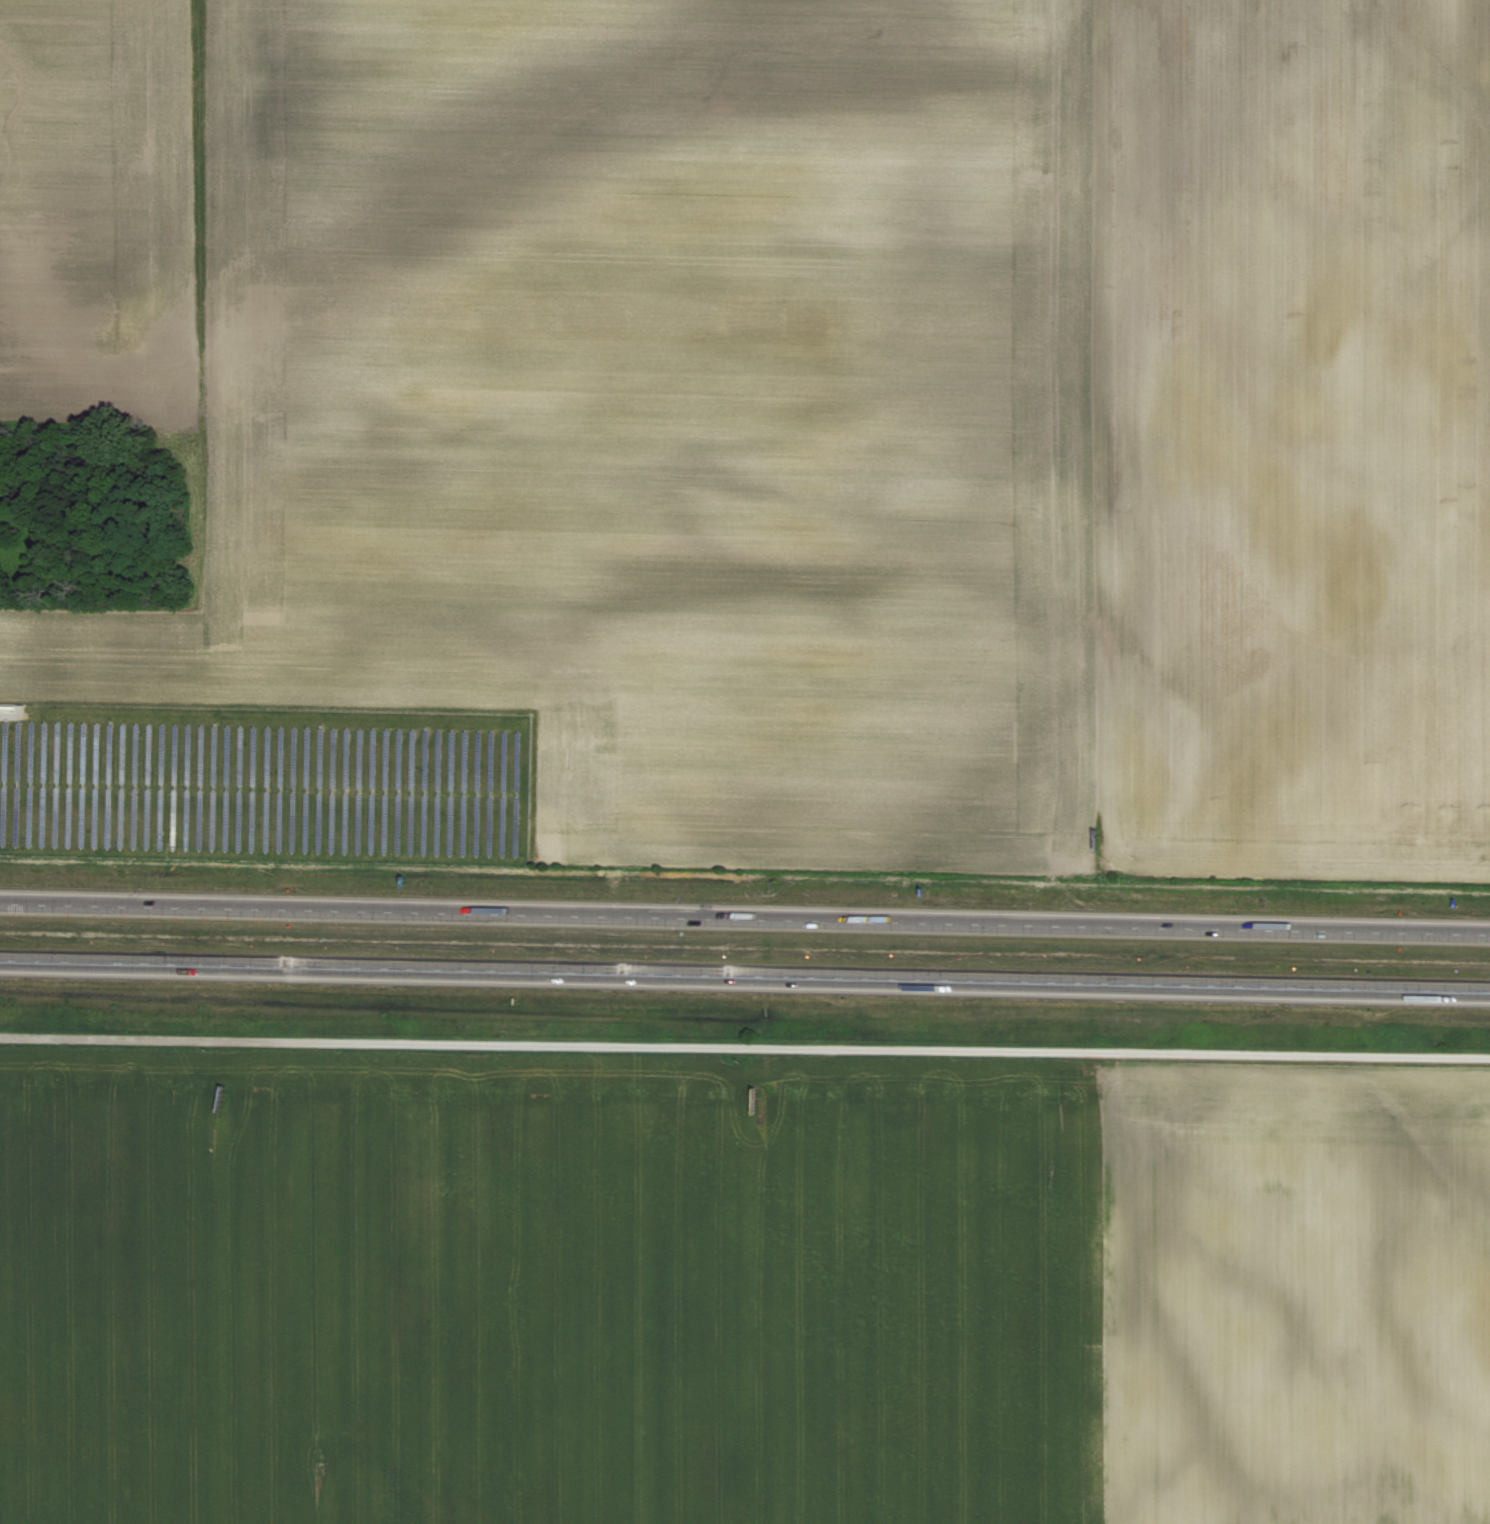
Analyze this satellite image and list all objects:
solar farm: (259, 784)
road: (744, 919)
road: (745, 975)
road: (744, 1047)

